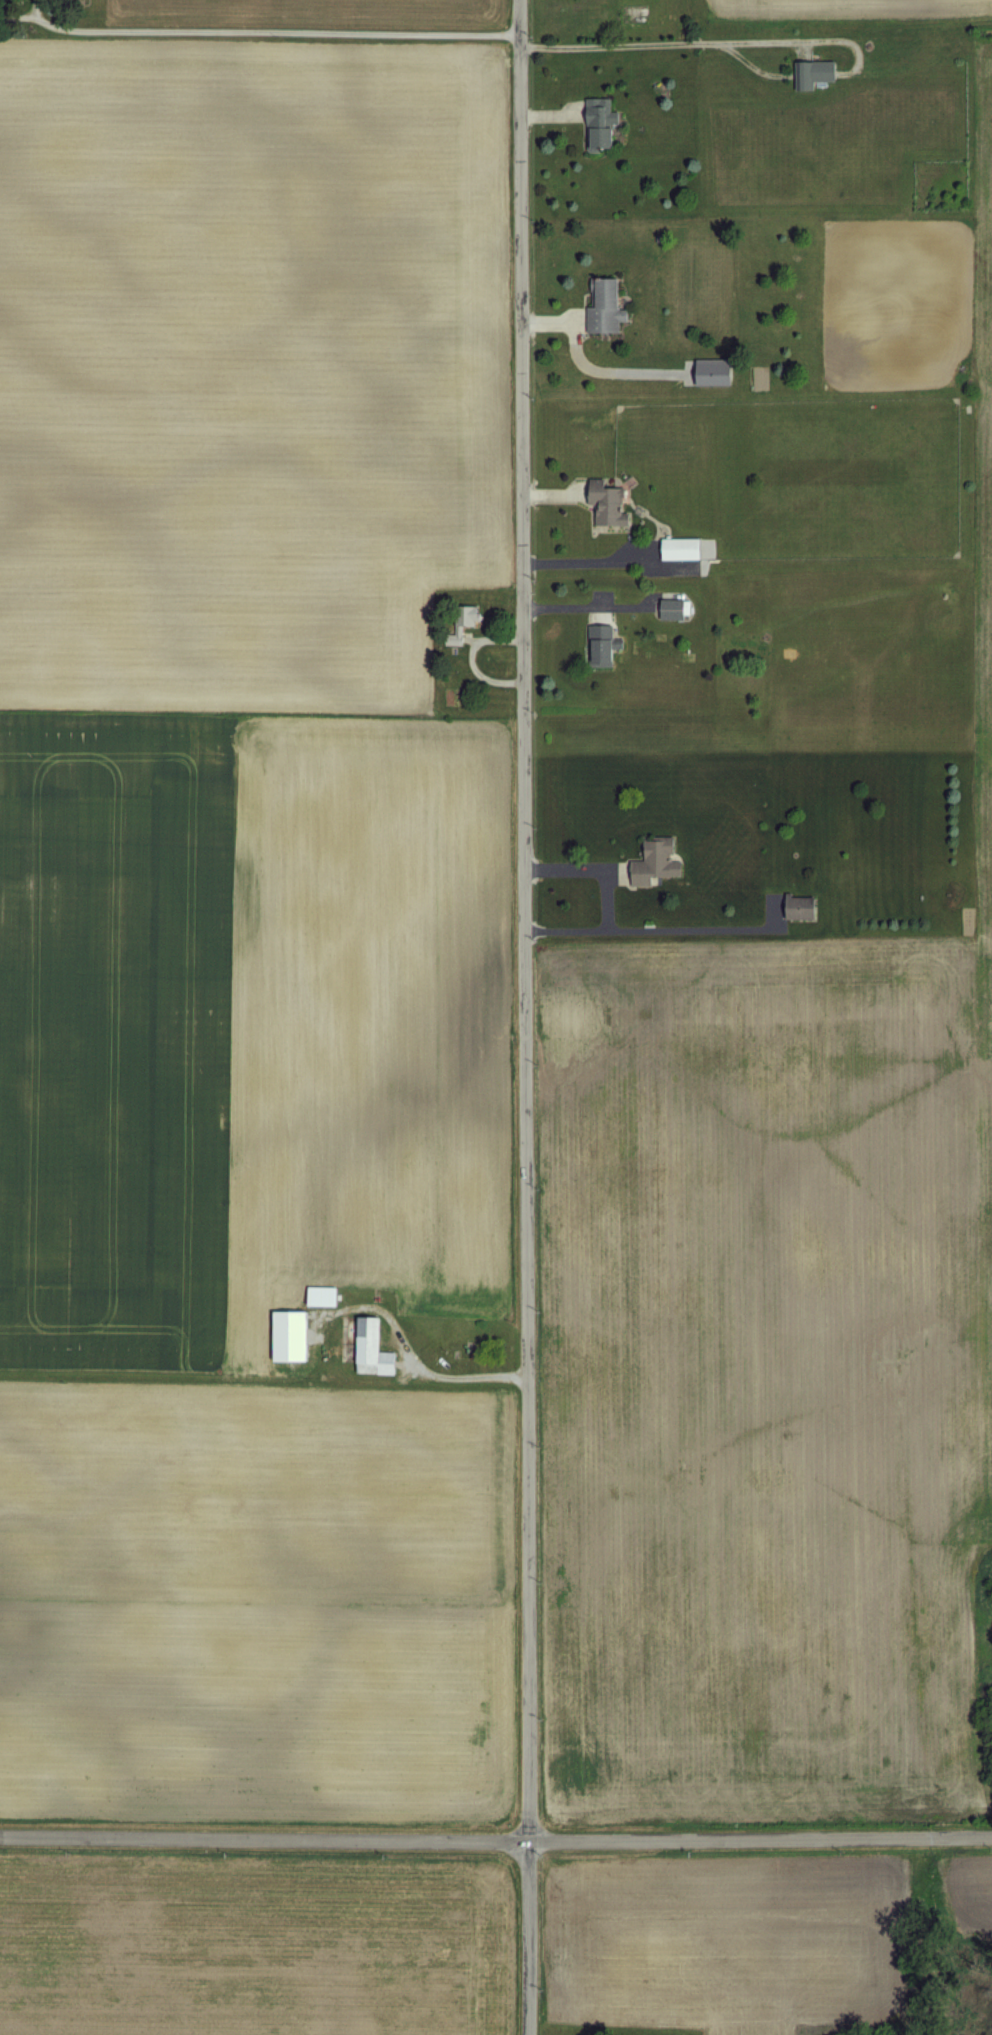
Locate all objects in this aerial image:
road: (285, 32)
road: (654, 42)
building: (810, 72)
building: (597, 123)
building: (602, 306)
building: (709, 372)
building: (604, 502)
building: (677, 547)
road: (582, 559)
road: (582, 605)
building: (672, 608)
building: (463, 620)
building: (600, 644)
building: (653, 861)
road: (607, 898)
building: (796, 907)
road: (522, 1017)
building: (318, 1295)
building: (367, 1348)
road: (460, 1375)
road: (496, 1846)

